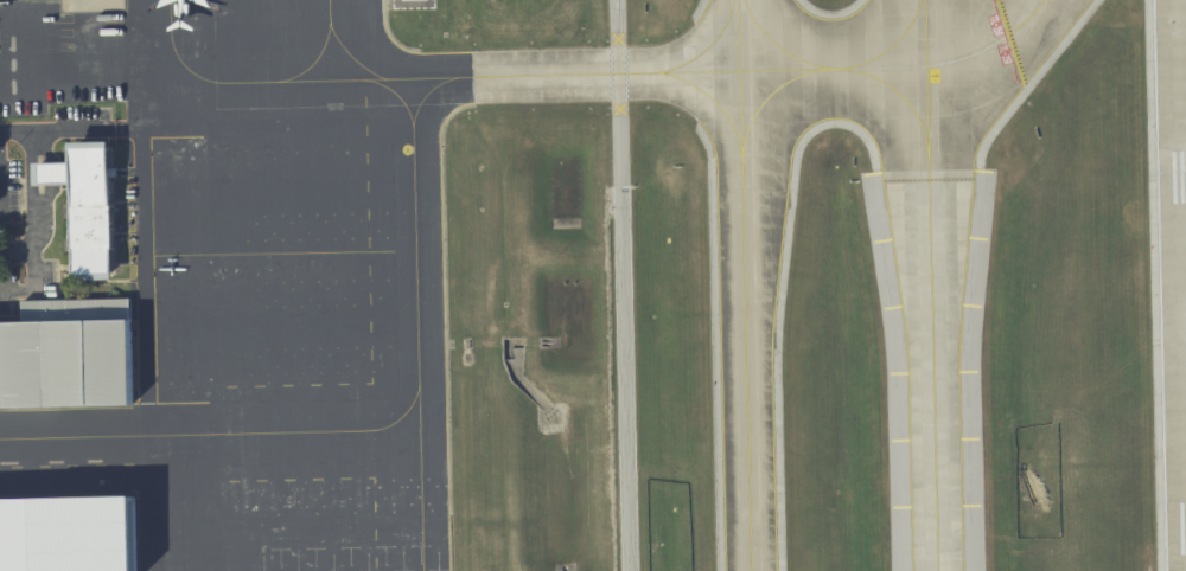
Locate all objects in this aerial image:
airport taxiway: (706, 47)
airport taxiway: (778, 47)
airport taxiway: (739, 70)
airport taxiway: (855, 71)
airport taxiway: (765, 98)
airport taxiway: (712, 101)
road: (74, 133)
road: (43, 155)
road: (51, 174)
road: (34, 191)
road: (43, 199)
building: (88, 212)
parking lot: (9, 235)
airport taxiway: (931, 284)
airport: (593, 285)
road: (614, 285)
airport taxiway: (742, 285)
road: (27, 287)
airport apron: (282, 290)
building: (63, 366)
airport hangar: (66, 533)
building: (66, 533)

